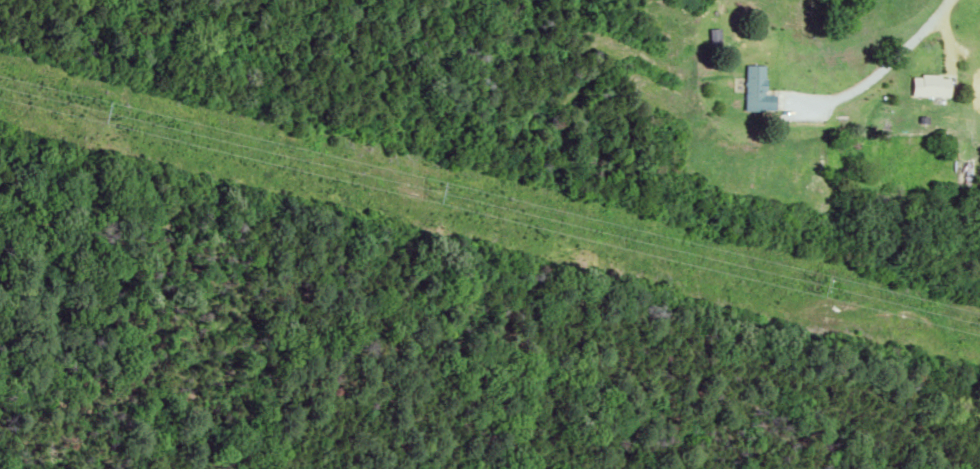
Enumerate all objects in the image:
building: (921, 84)
building: (747, 85)

